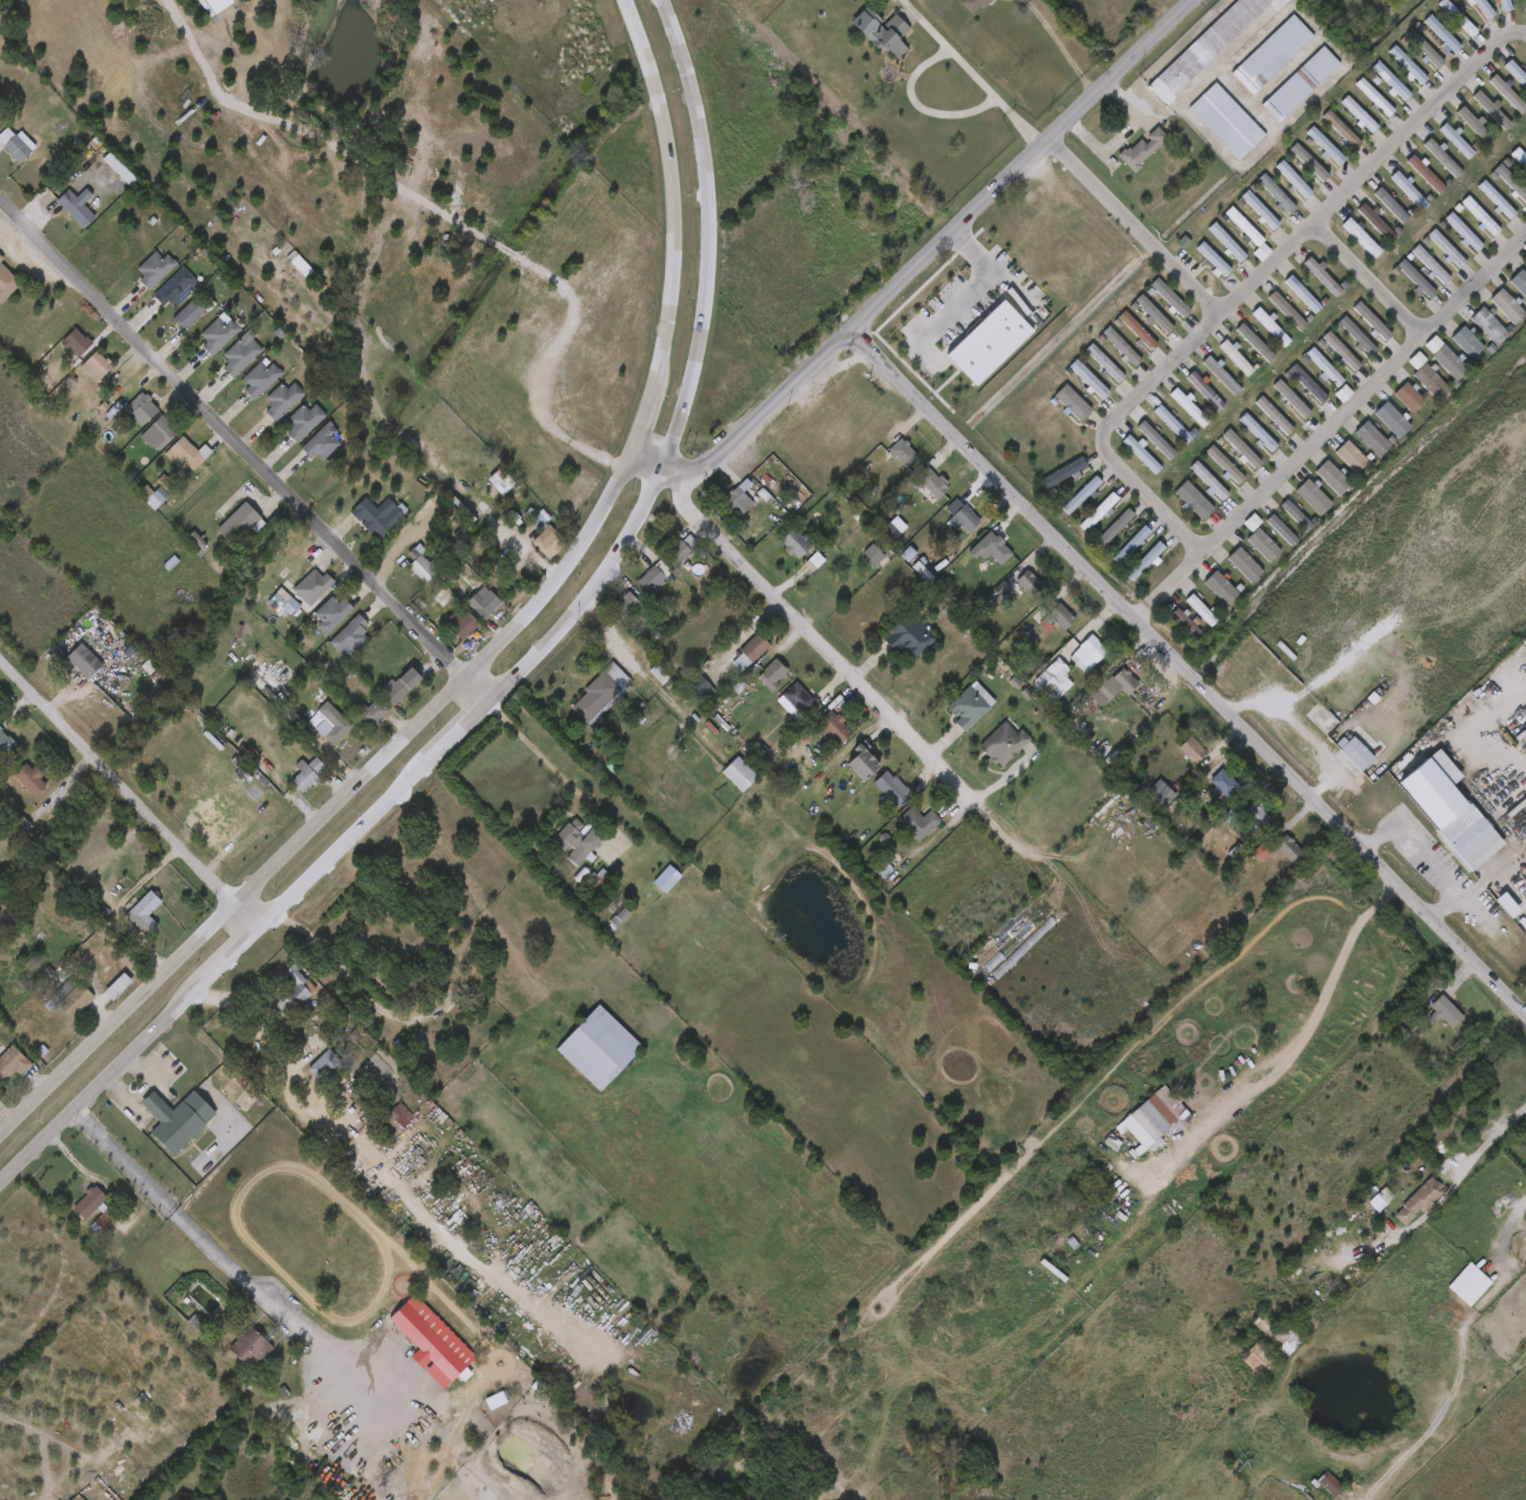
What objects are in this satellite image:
building: (975, 5)
building: (1506, 5)
building: (1485, 8)
building: (1458, 18)
building: (881, 33)
building: (1443, 34)
road: (1061, 44)
building: (1207, 48)
building: (1425, 49)
building: (1273, 54)
building: (1409, 65)
road: (971, 72)
building: (1516, 72)
building: (1392, 81)
building: (1301, 84)
building: (1507, 93)
building: (1375, 96)
road: (919, 106)
building: (1490, 109)
building: (1360, 113)
building: (1228, 120)
building: (1475, 125)
building: (1343, 129)
building: (1400, 137)
building: (1525, 138)
building: (1456, 140)
building: (17, 144)
road: (1119, 144)
building: (1327, 145)
building: (1144, 150)
building: (1441, 157)
building: (1519, 158)
building: (1310, 162)
road: (382, 167)
building: (1429, 173)
building: (1294, 178)
building: (1510, 183)
building: (1413, 190)
building: (1276, 193)
road: (678, 194)
building: (1495, 200)
building: (1394, 204)
building: (78, 207)
building: (1260, 210)
building: (1479, 216)
building: (1379, 222)
building: (1245, 226)
road: (1134, 227)
building: (1463, 233)
building: (1365, 237)
building: (573, 238)
building: (1227, 241)
building: (1446, 248)
building: (1525, 249)
building: (1, 258)
building: (1214, 260)
road: (922, 262)
building: (1430, 265)
building: (156, 269)
building: (1324, 276)
building: (1415, 279)
road: (1369, 280)
road: (1254, 281)
building: (7, 283)
building: (1519, 283)
road: (971, 288)
building: (176, 289)
building: (1304, 293)
building: (1171, 298)
building: (1506, 306)
building: (1288, 309)
building: (500, 312)
building: (191, 313)
building: (1155, 314)
building: (1375, 321)
building: (1273, 326)
building: (1487, 327)
building: (1138, 330)
building: (220, 335)
building: (478, 336)
building: (1362, 338)
building: (1257, 342)
building: (78, 343)
building: (1465, 343)
building: (1122, 346)
building: (1345, 351)
building: (242, 356)
building: (1238, 357)
building: (1105, 363)
building: (1448, 363)
building: (97, 367)
building: (1327, 367)
road: (510, 375)
building: (1225, 376)
building: (262, 379)
building: (1091, 379)
building: (1429, 383)
building: (1311, 384)
building: (1206, 390)
building: (1074, 397)
building: (1407, 397)
building: (284, 400)
building: (1294, 400)
building: (1192, 407)
building: (141, 410)
building: (1278, 416)
building: (1390, 420)
building: (306, 421)
building: (1175, 423)
road: (647, 426)
road: (1329, 429)
building: (160, 433)
building: (1261, 433)
building: (504, 436)
building: (1370, 439)
building: (1159, 440)
building: (323, 443)
building: (1244, 449)
road: (245, 452)
building: (905, 452)
building: (1144, 453)
building: (188, 454)
building: (1350, 457)
building: (1228, 467)
building: (1065, 472)
building: (1210, 481)
building: (934, 482)
building: (1286, 492)
building: (1082, 495)
building: (740, 497)
building: (1197, 500)
building: (1270, 508)
building: (1100, 511)
building: (963, 515)
building: (383, 520)
building: (240, 523)
building: (1116, 527)
building: (1236, 540)
building: (551, 541)
building: (795, 544)
building: (1132, 544)
building: (1001, 551)
building: (679, 552)
building: (1220, 556)
building: (877, 557)
building: (1146, 560)
building: (426, 564)
building: (653, 579)
building: (1032, 583)
building: (317, 584)
building: (442, 596)
building: (284, 602)
building: (486, 603)
building: (626, 605)
building: (1204, 609)
building: (334, 613)
building: (1058, 615)
building: (1187, 622)
building: (463, 623)
road: (608, 630)
building: (352, 634)
building: (908, 636)
building: (756, 647)
building: (1092, 651)
building: (82, 660)
building: (257, 662)
road: (522, 672)
building: (774, 674)
road: (1186, 675)
building: (1056, 682)
building: (402, 685)
building: (1115, 685)
building: (700, 686)
building: (602, 694)
building: (801, 699)
building: (971, 707)
road: (877, 709)
building: (373, 712)
building: (332, 722)
building: (836, 728)
road: (1296, 731)
road: (1476, 737)
building: (5, 743)
building: (1003, 744)
building: (1195, 749)
building: (1360, 754)
building: (866, 761)
road: (554, 768)
building: (308, 774)
building: (741, 774)
building: (31, 779)
building: (1227, 782)
building: (893, 789)
road: (130, 793)
building: (1164, 797)
building: (1423, 802)
road: (333, 807)
building: (1249, 817)
building: (920, 822)
building: (905, 832)
building: (1468, 836)
building: (580, 841)
building: (1290, 847)
road: (1425, 850)
road: (1492, 870)
building: (667, 879)
road: (124, 901)
building: (145, 912)
road: (347, 974)
building: (427, 982)
building: (292, 989)
building: (76, 999)
building: (1443, 1010)
road: (1297, 1035)
building: (598, 1047)
building: (12, 1062)
building: (323, 1070)
building: (377, 1070)
road: (149, 1089)
building: (391, 1118)
building: (179, 1119)
building: (1153, 1123)
road: (1485, 1144)
building: (1423, 1200)
building: (1382, 1201)
building: (109, 1211)
road: (210, 1242)
building: (1469, 1284)
building: (1280, 1335)
building: (433, 1342)
building: (249, 1348)
building: (1259, 1360)
building: (1330, 1483)

